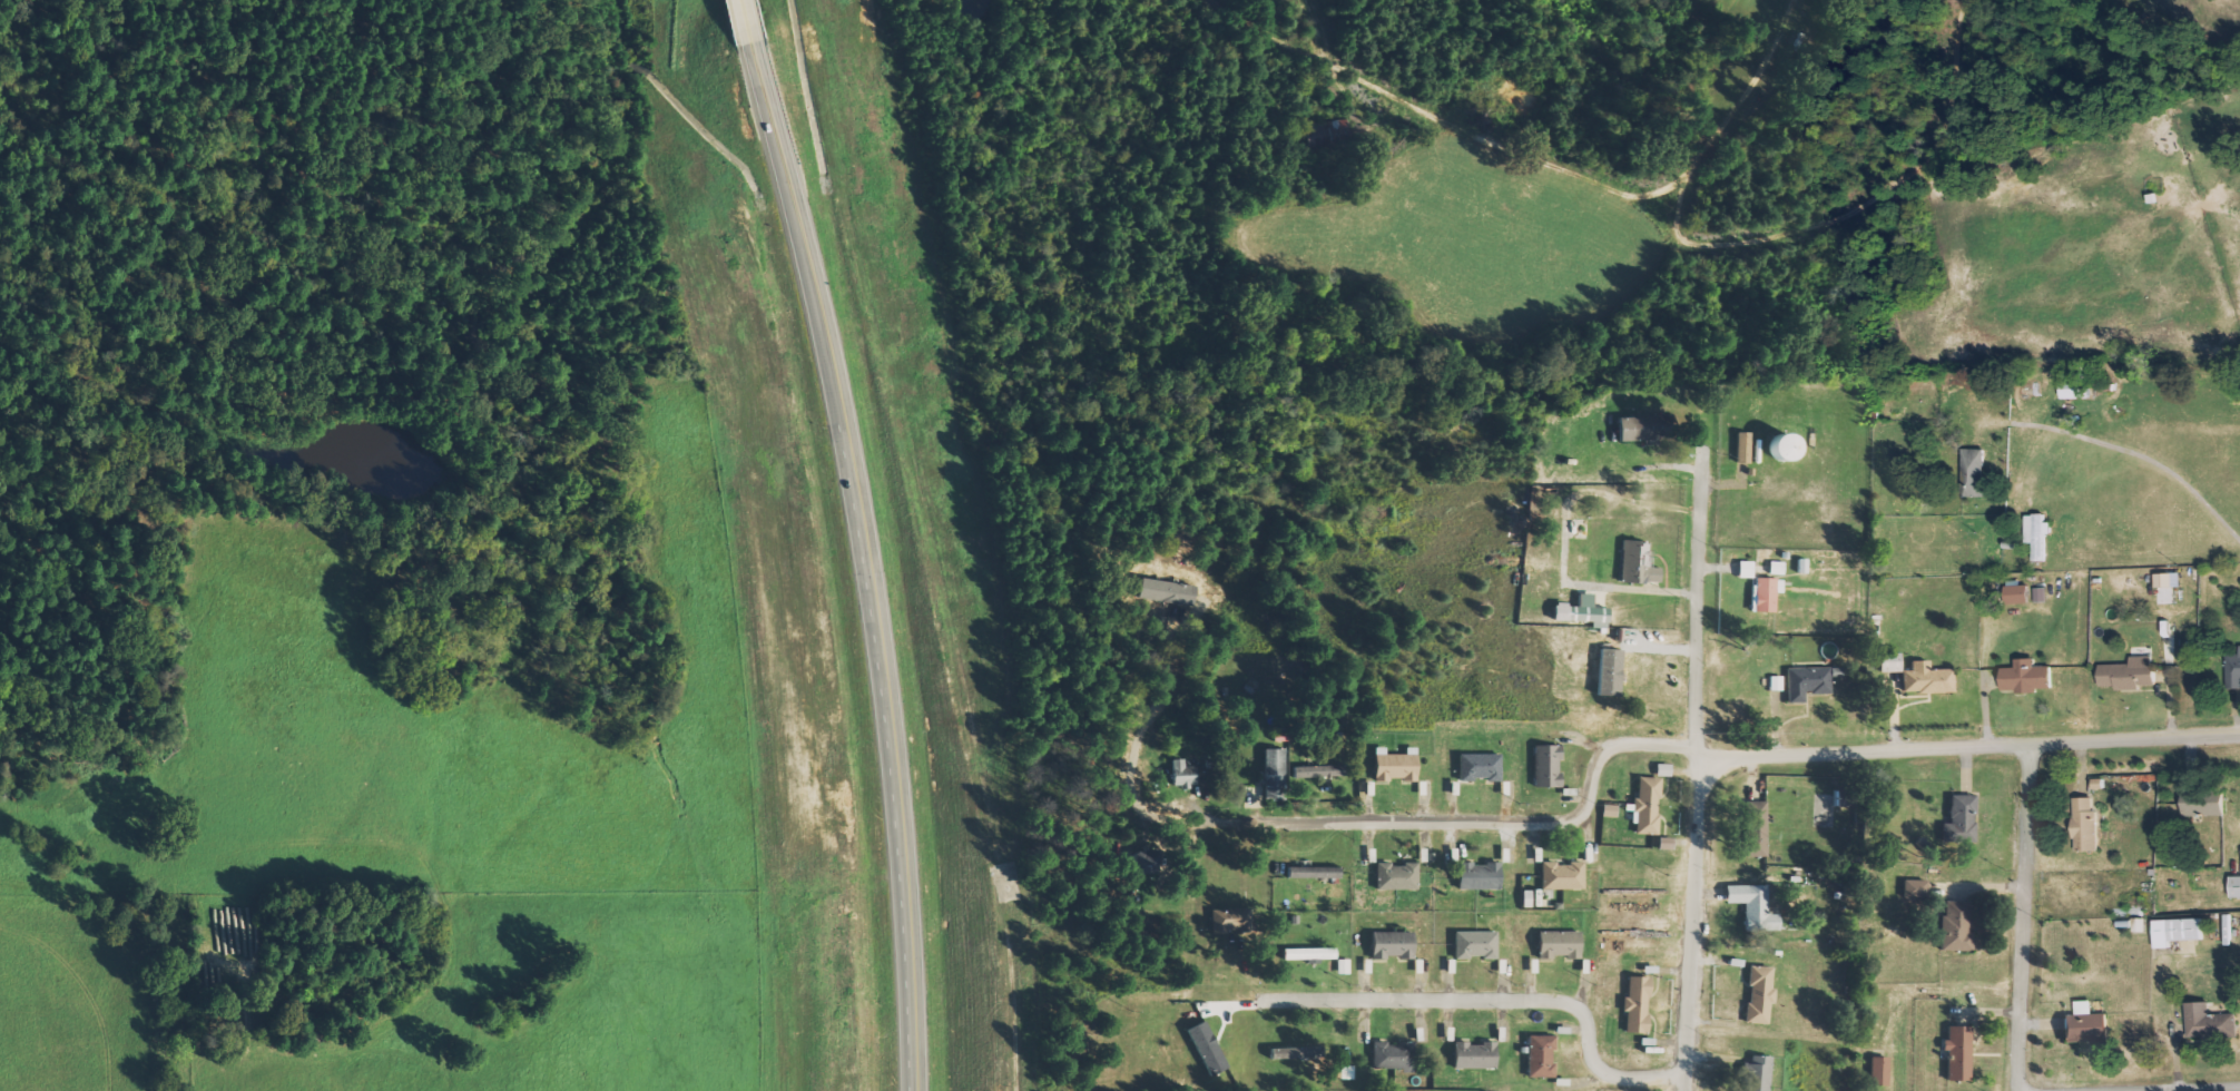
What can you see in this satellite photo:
road: (748, 23)
road: (802, 229)
building: (2074, 389)
building: (1639, 427)
building: (1741, 448)
building: (1780, 448)
building: (1974, 473)
building: (2037, 534)
building: (1637, 563)
building: (1776, 568)
building: (1745, 570)
building: (2164, 580)
building: (1766, 593)
building: (2018, 594)
building: (2041, 594)
building: (1581, 612)
building: (1890, 662)
building: (2233, 671)
building: (1608, 672)
building: (2129, 675)
building: (2026, 677)
building: (1926, 679)
building: (1806, 682)
building: (1775, 684)
road: (1971, 746)
road: (894, 750)
road: (1702, 761)
building: (1394, 765)
building: (1545, 766)
building: (1478, 767)
building: (1319, 771)
building: (1273, 774)
building: (1181, 775)
building: (2099, 784)
building: (2202, 803)
building: (1645, 806)
building: (1609, 810)
building: (1962, 818)
road: (1513, 823)
building: (2084, 824)
building: (1753, 829)
building: (1664, 844)
building: (1141, 864)
building: (1311, 872)
building: (1396, 876)
building: (1477, 876)
building: (1561, 876)
building: (2234, 886)
building: (1915, 888)
building: (1753, 906)
road: (2030, 916)
building: (1229, 920)
building: (1954, 927)
building: (2177, 931)
building: (1474, 944)
building: (1392, 945)
building: (1558, 945)
building: (1308, 954)
building: (1342, 966)
building: (1758, 994)
road: (1505, 997)
building: (1635, 1005)
building: (2209, 1022)
building: (2086, 1025)
building: (1206, 1049)
building: (1295, 1053)
building: (1957, 1053)
building: (1392, 1055)
building: (1473, 1055)
building: (1540, 1056)
building: (1878, 1071)
building: (1346, 1072)
building: (1755, 1074)
road: (2177, 1088)

